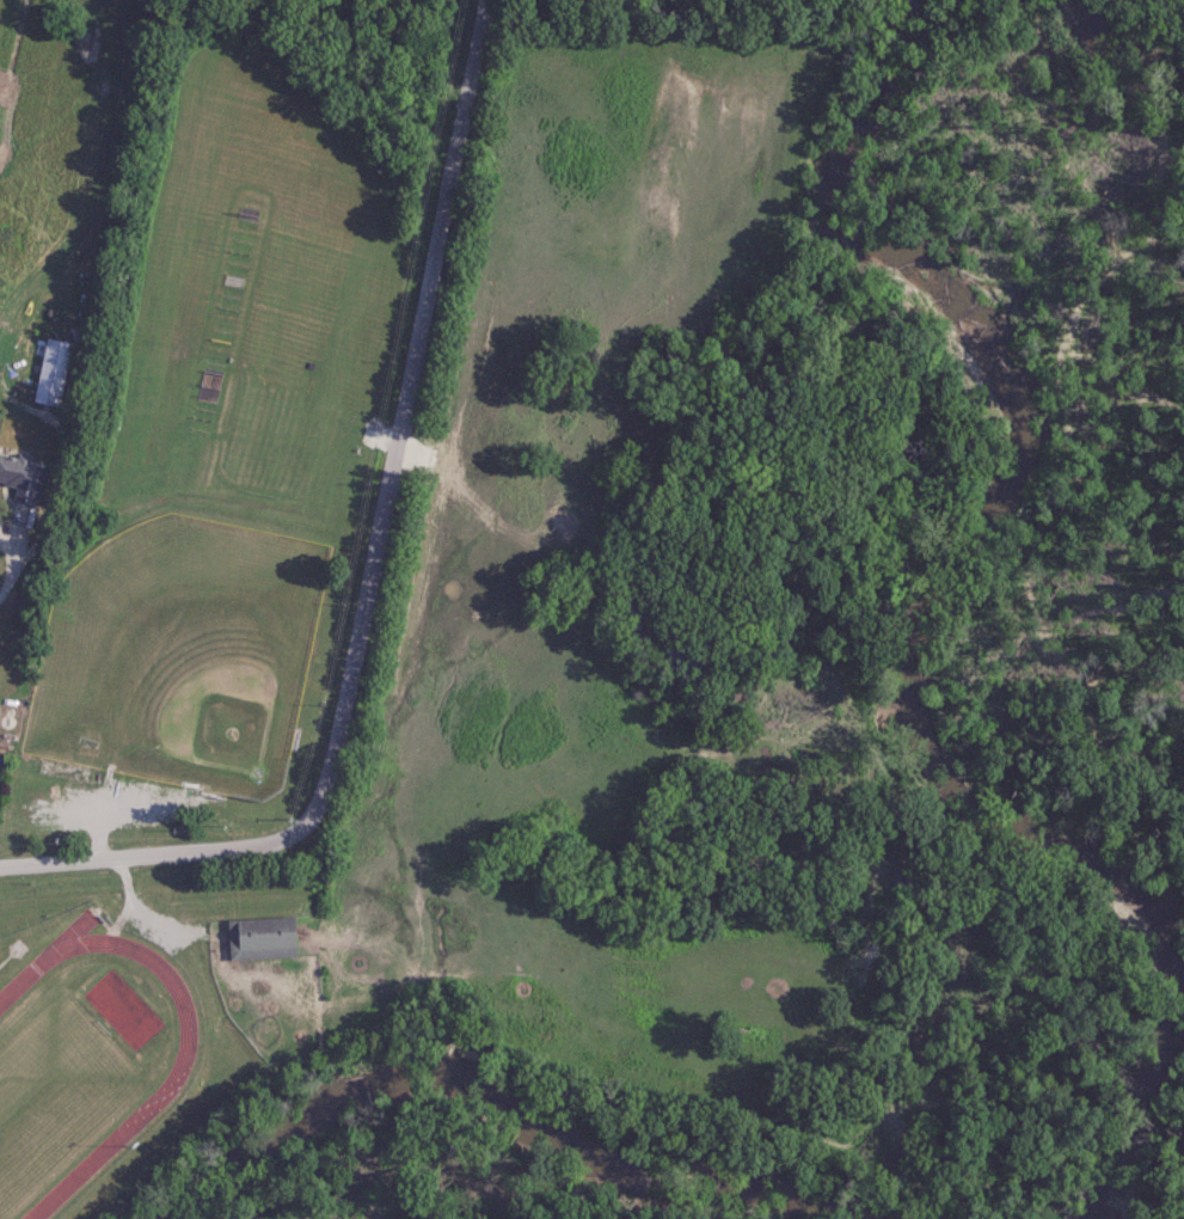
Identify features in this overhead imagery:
building: (50, 372)
building: (20, 476)
road: (5, 557)
road: (370, 566)
park: (177, 650)
parking lot: (63, 797)
road: (128, 893)
road: (157, 915)
building: (259, 935)
track: (177, 1061)
park: (54, 1083)

